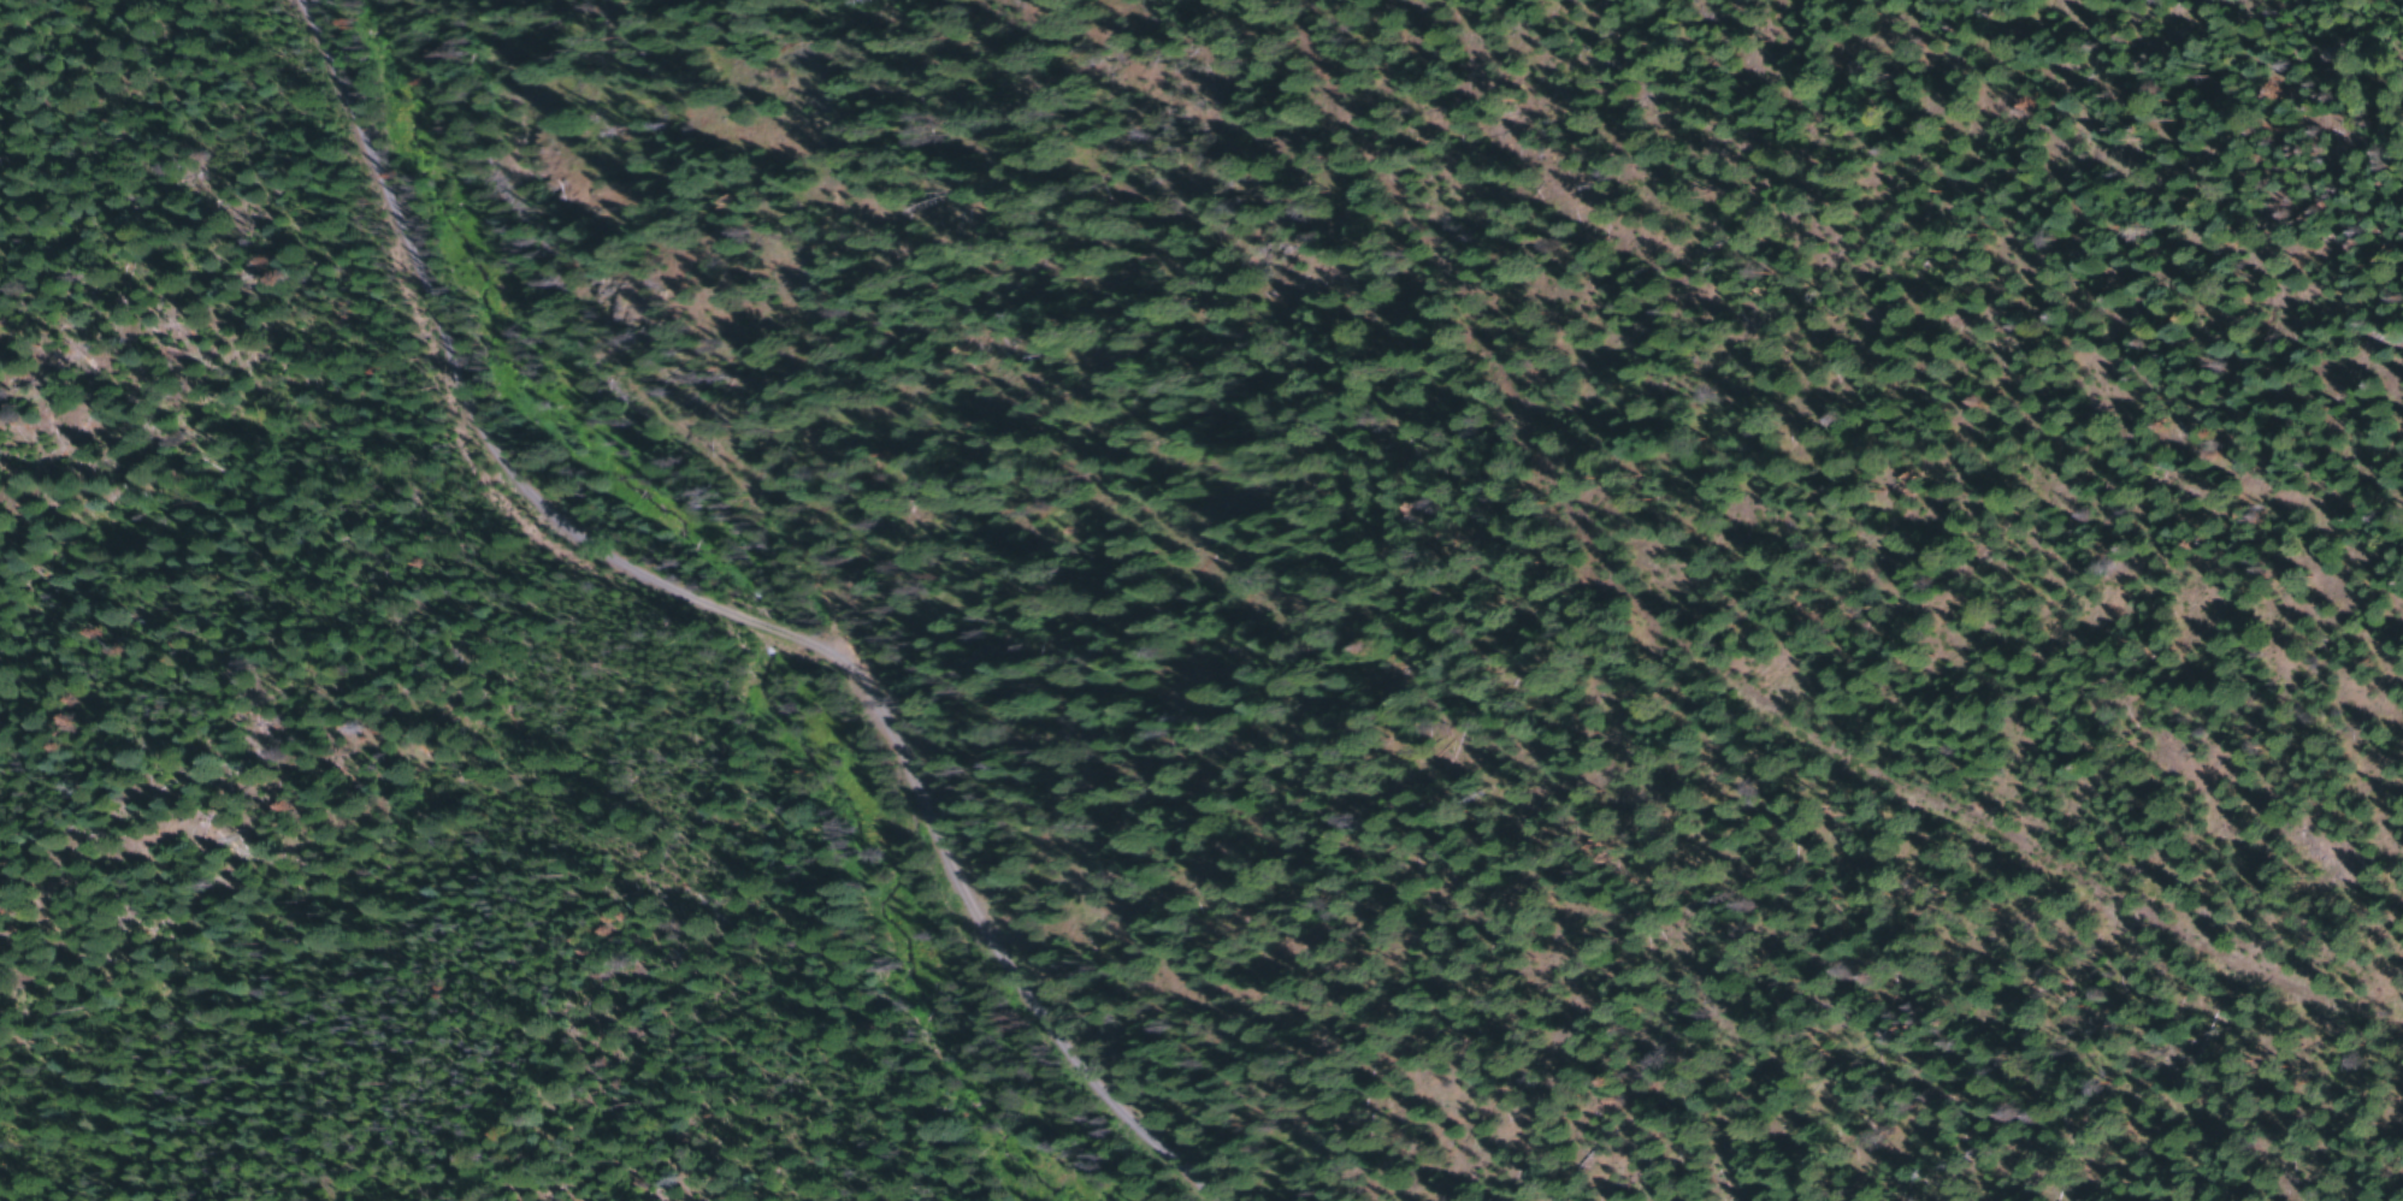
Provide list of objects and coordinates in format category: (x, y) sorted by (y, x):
road: (745, 593)
road: (1678, 652)

